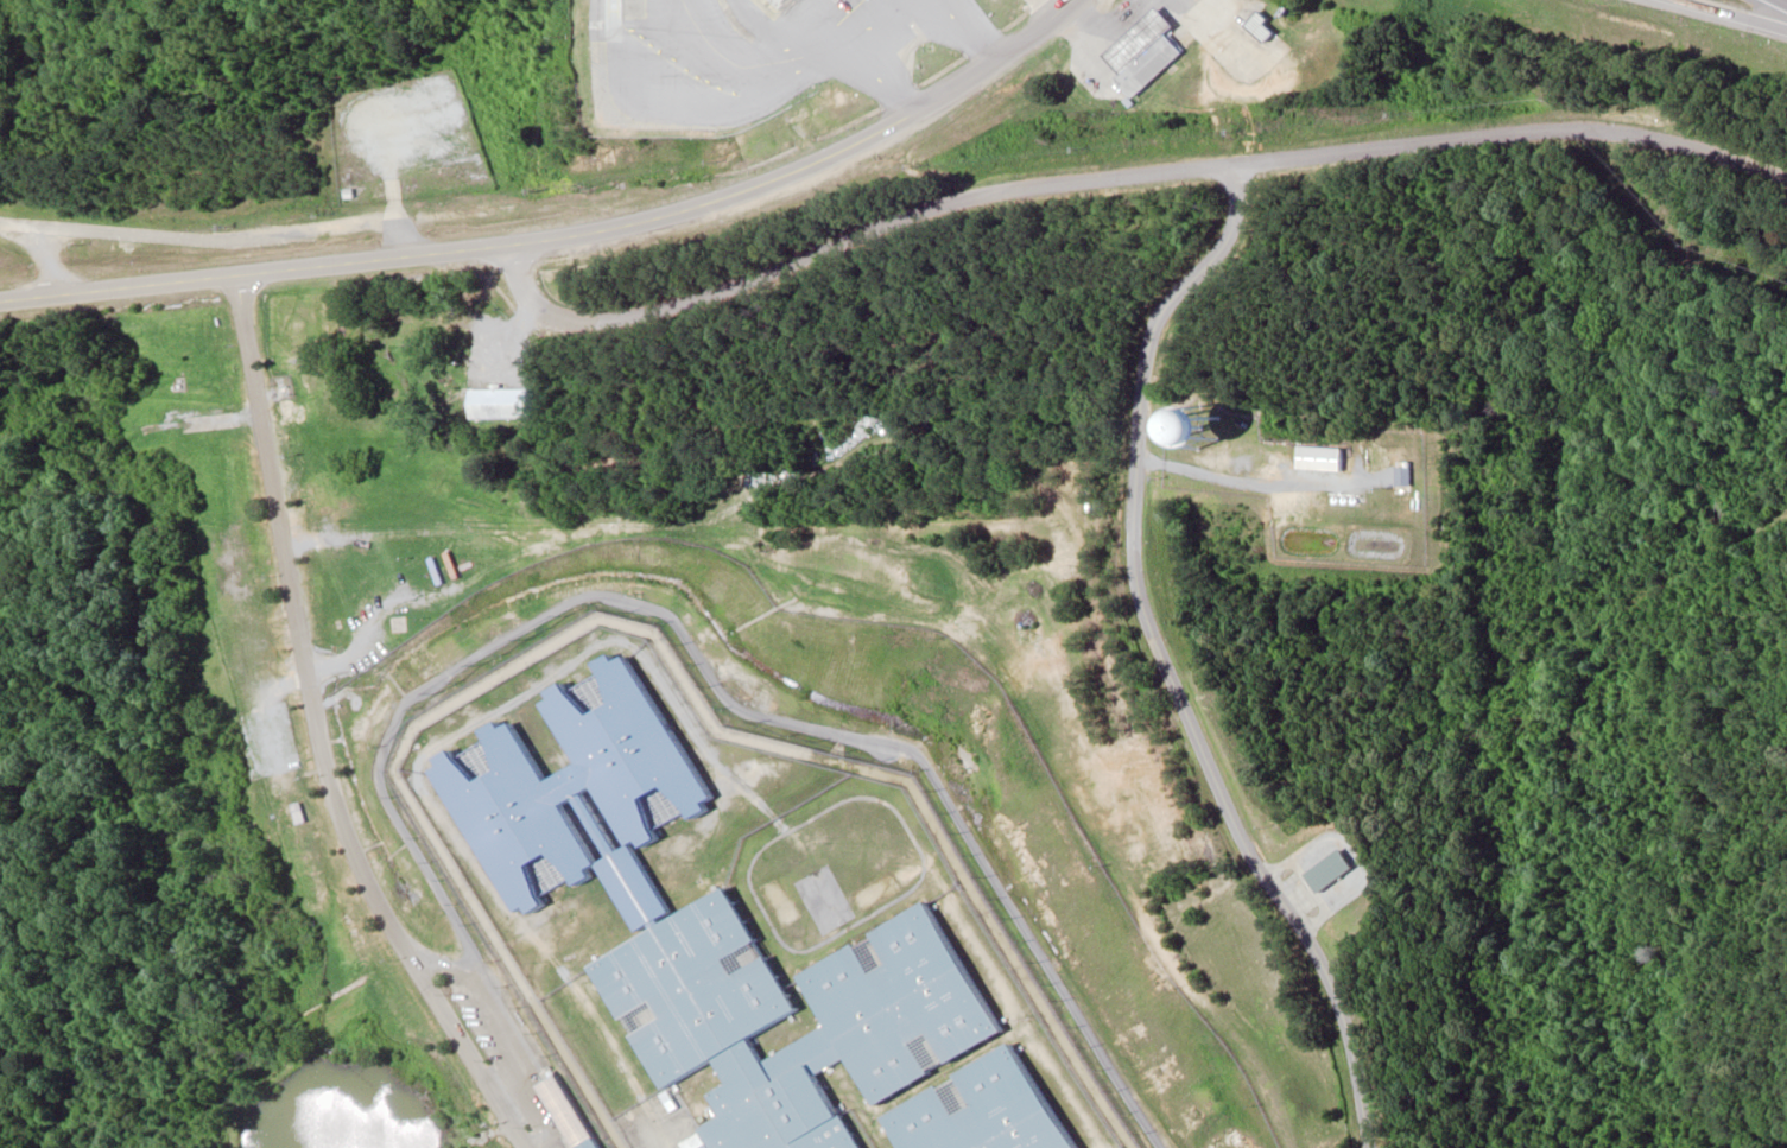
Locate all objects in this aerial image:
road: (1729, 14)
building: (1140, 38)
gas station: (1140, 38)
building: (1148, 64)
road: (1115, 171)
road: (563, 230)
road: (37, 246)
building: (498, 405)
water tower: (1210, 416)
building: (1181, 436)
building: (1249, 463)
building: (1403, 476)
building: (398, 623)
road: (1164, 654)
road: (710, 690)
road: (324, 732)
building: (299, 816)
building: (1331, 871)
building: (708, 928)
road: (492, 1008)
building: (978, 1110)
building: (572, 1114)

